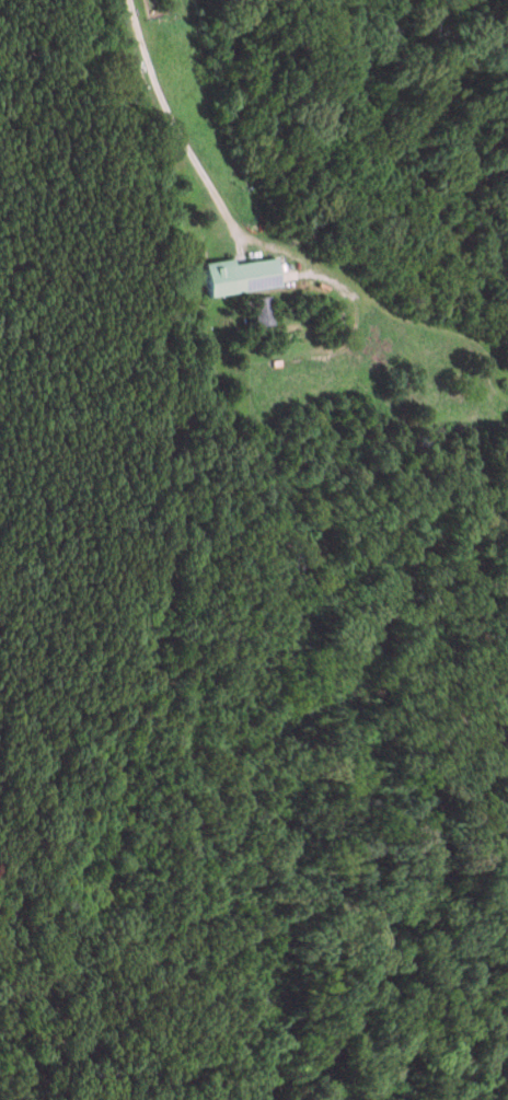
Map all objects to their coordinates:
road: (173, 128)
building: (231, 277)
building: (254, 310)

